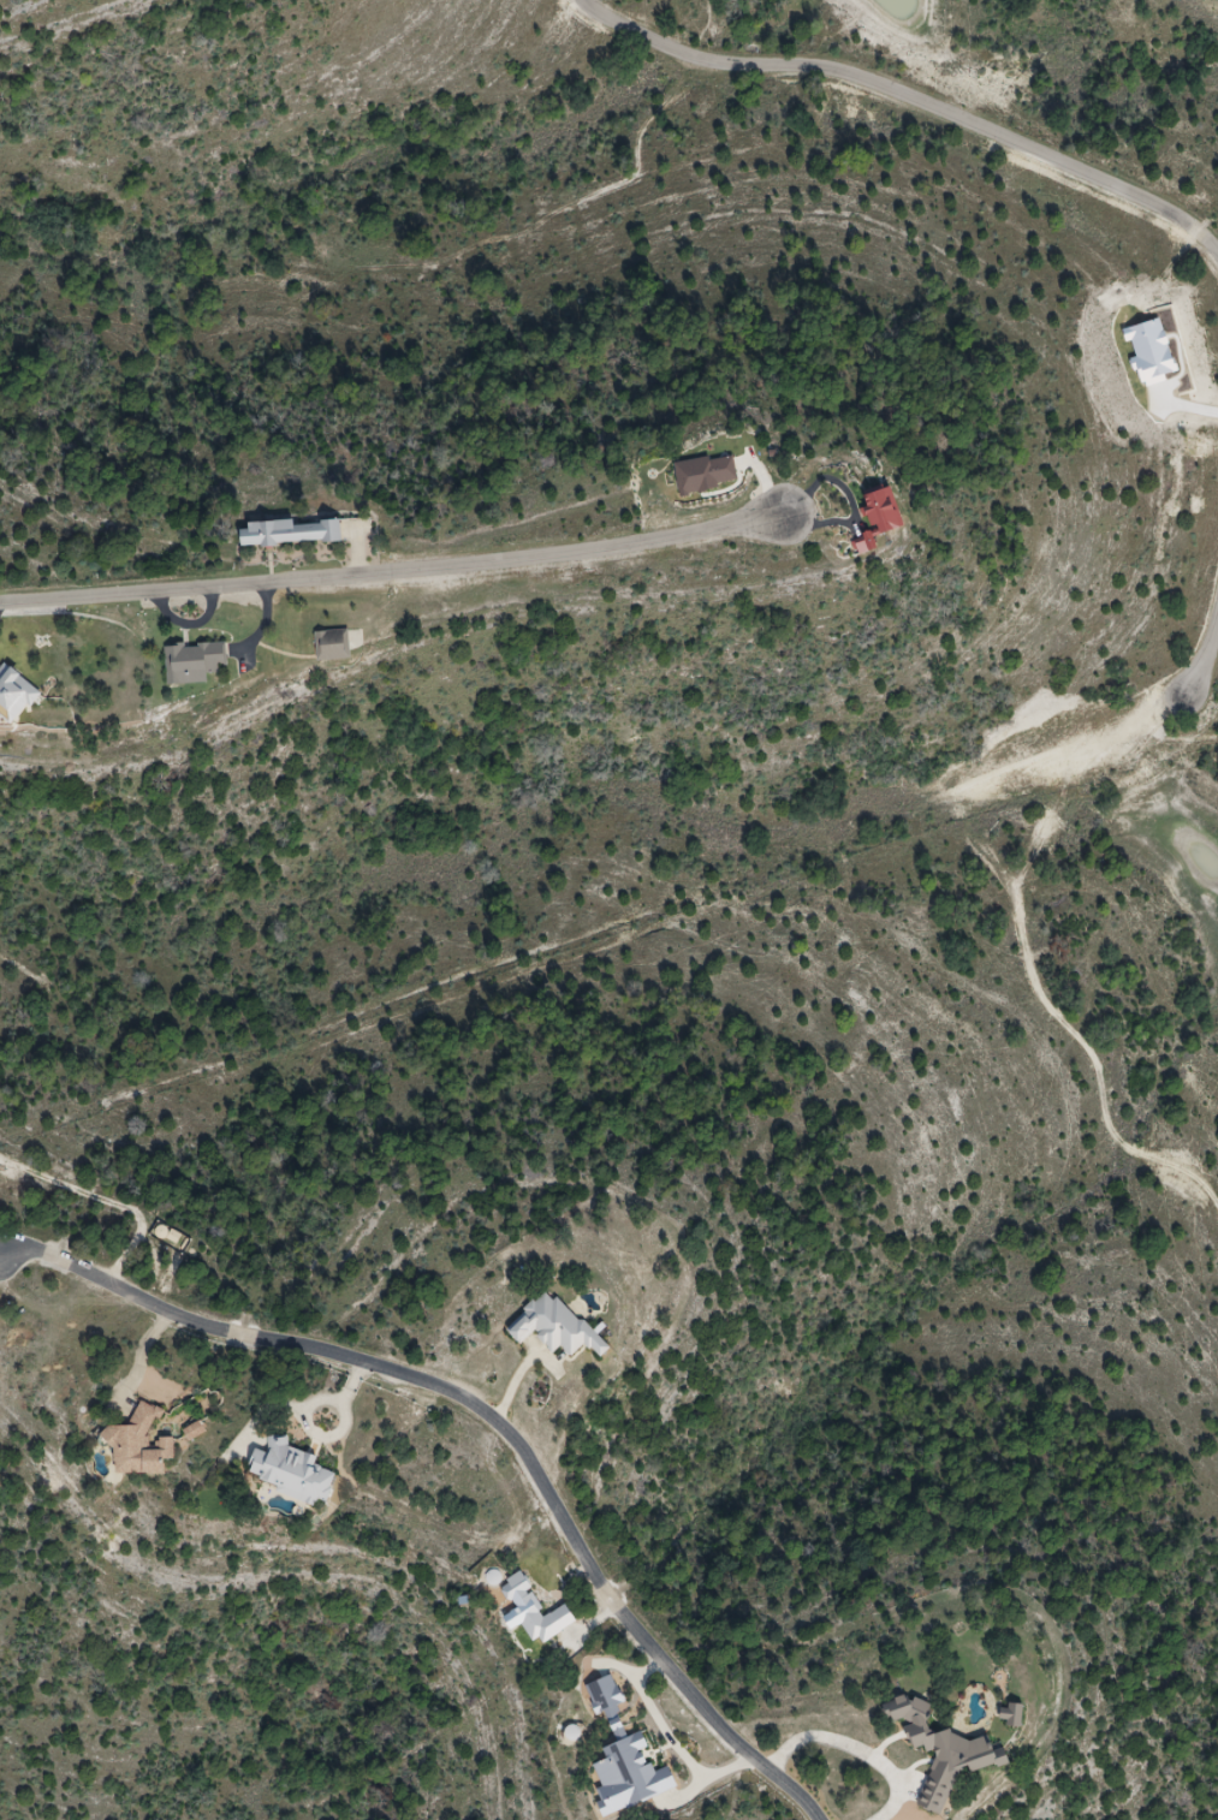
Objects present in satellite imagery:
road: (897, 106)
building: (291, 534)
road: (406, 567)
building: (333, 643)
building: (194, 661)
road: (1192, 684)
building: (14, 694)
road: (114, 1206)
building: (554, 1327)
road: (492, 1412)
building: (139, 1446)
building: (291, 1471)
building: (1014, 1715)
road: (671, 1742)
road: (858, 1749)
building: (943, 1751)

